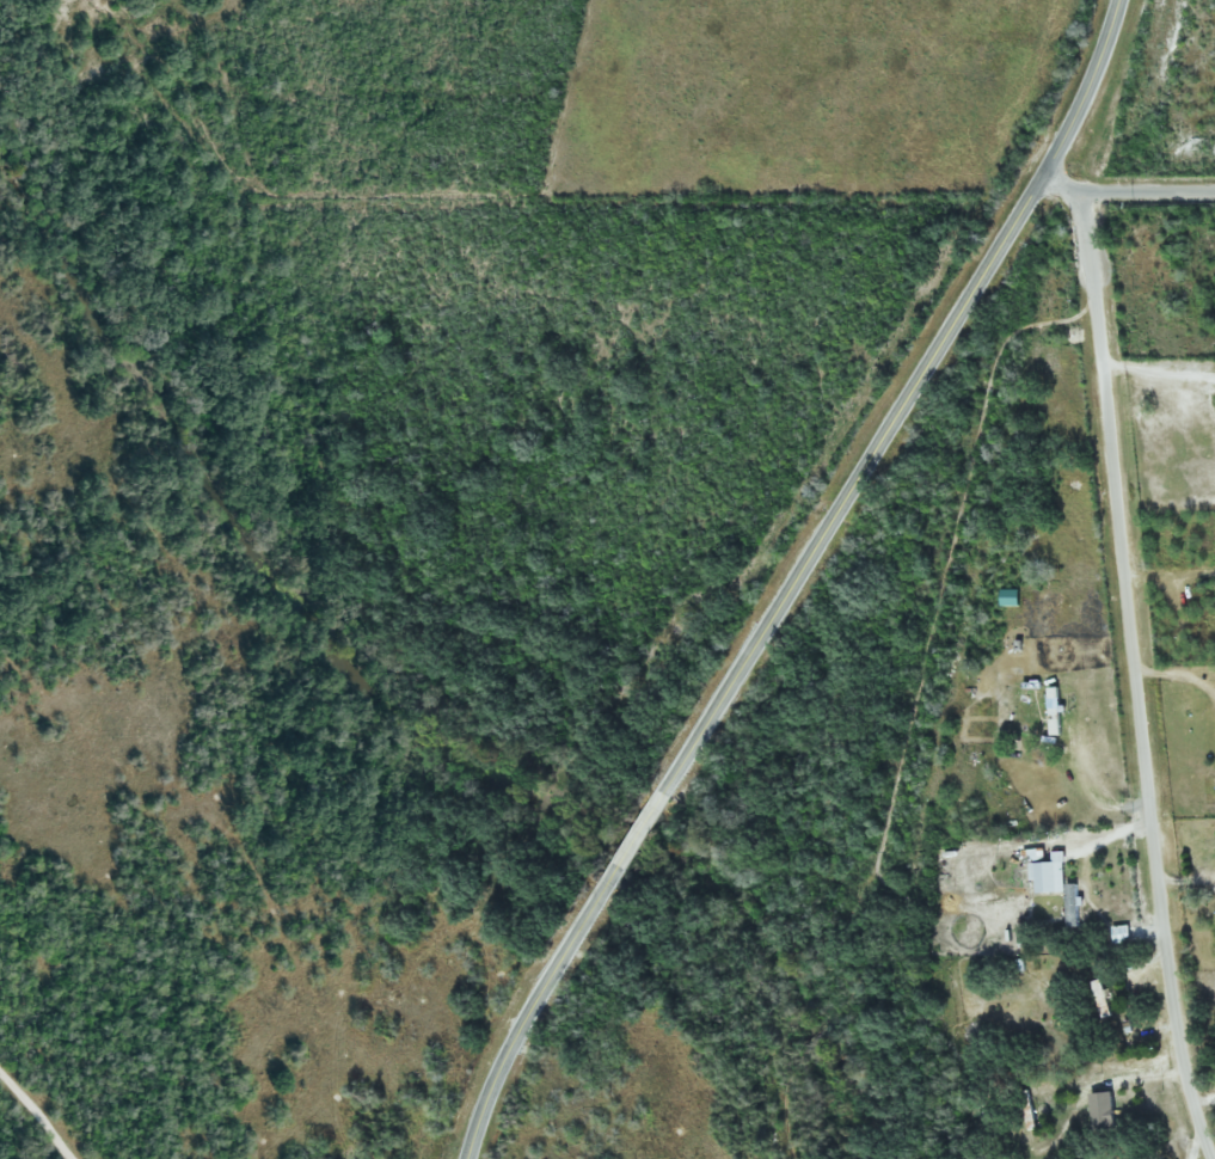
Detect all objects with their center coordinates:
road: (1125, 190)
road: (799, 581)
road: (1133, 676)
building: (1054, 710)
building: (1058, 885)
building: (1119, 933)
building: (1099, 998)
road: (22, 1120)
building: (1029, 1121)

